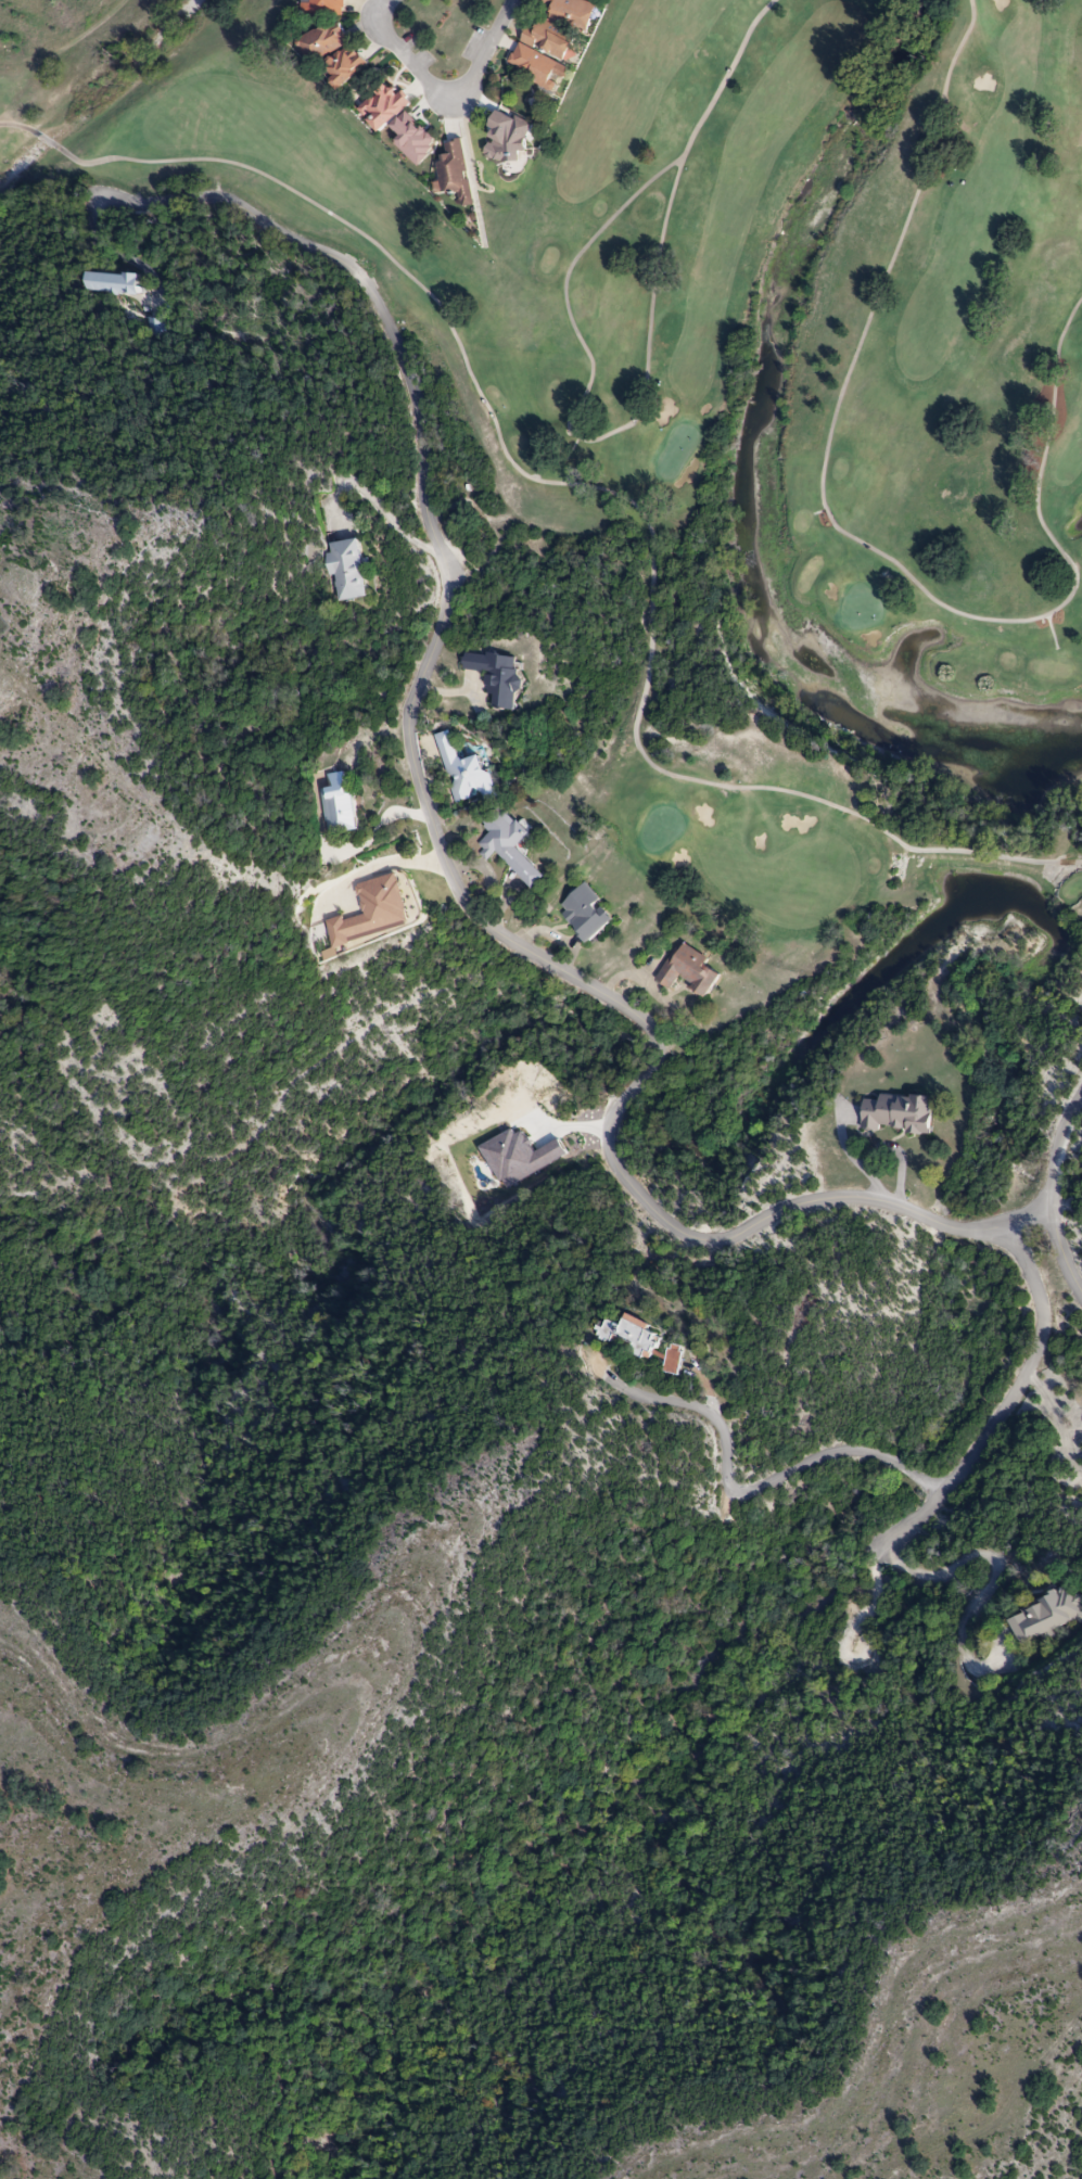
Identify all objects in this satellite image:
building: (323, 9)
building: (550, 41)
building: (331, 54)
road: (444, 95)
building: (397, 123)
building: (518, 136)
building: (455, 174)
building: (107, 284)
road: (377, 499)
building: (344, 570)
building: (495, 677)
building: (463, 773)
building: (336, 805)
road: (380, 825)
building: (508, 848)
building: (584, 913)
road: (480, 919)
building: (686, 971)
building: (893, 1114)
road: (1060, 1247)
building: (637, 1342)
road: (1006, 1405)
road: (1055, 1414)
road: (754, 1488)
road: (991, 1580)
building: (1044, 1617)

